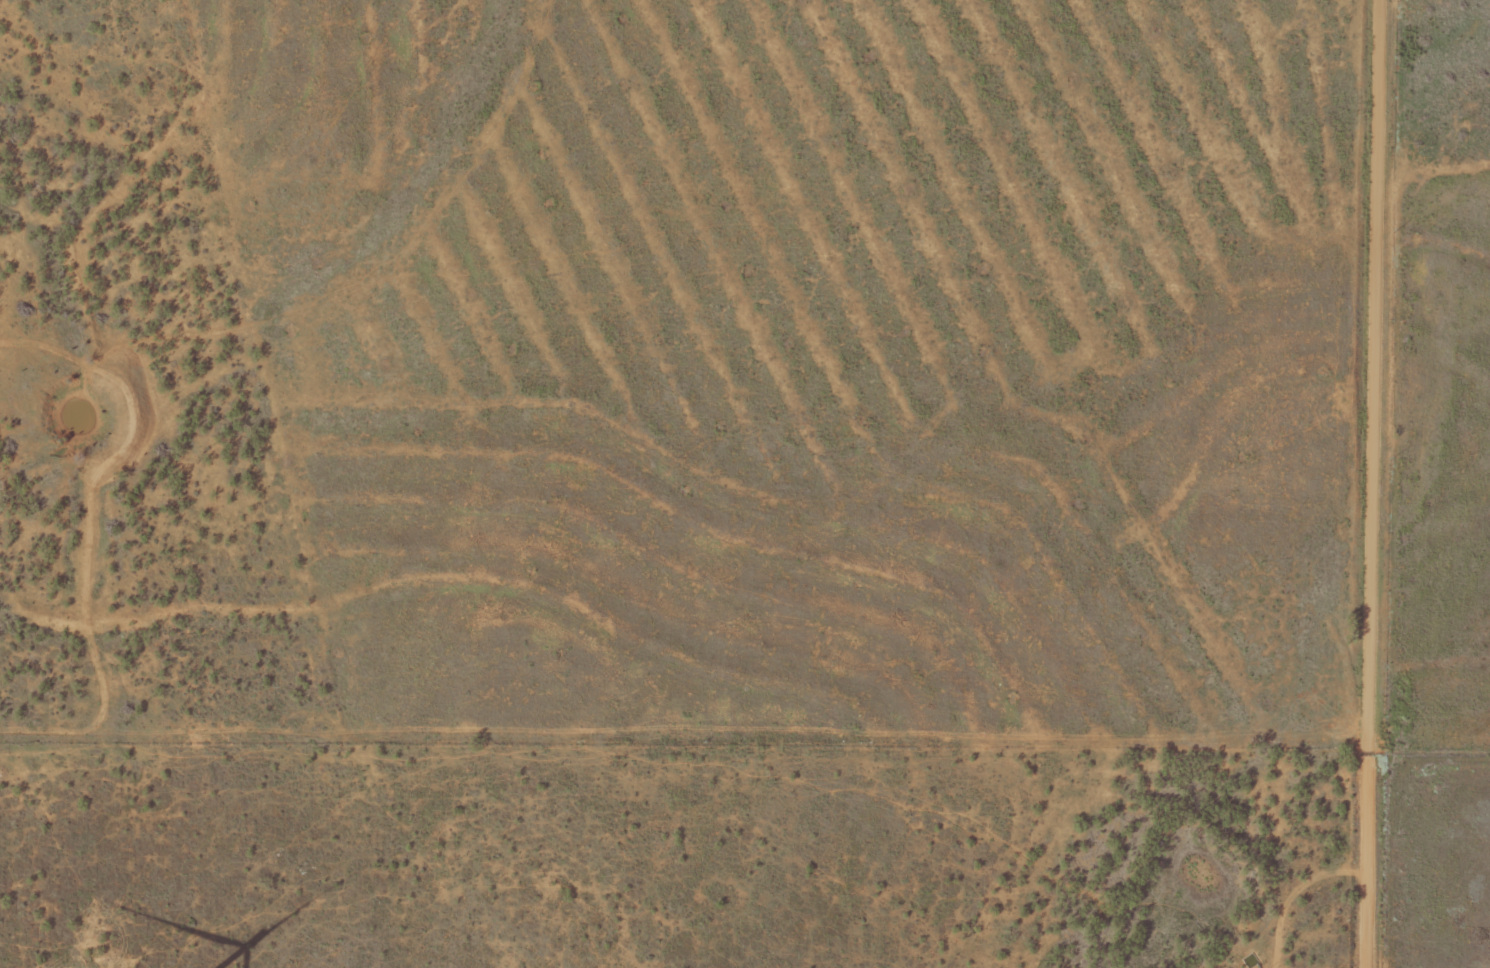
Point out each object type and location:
road: (1418, 484)

